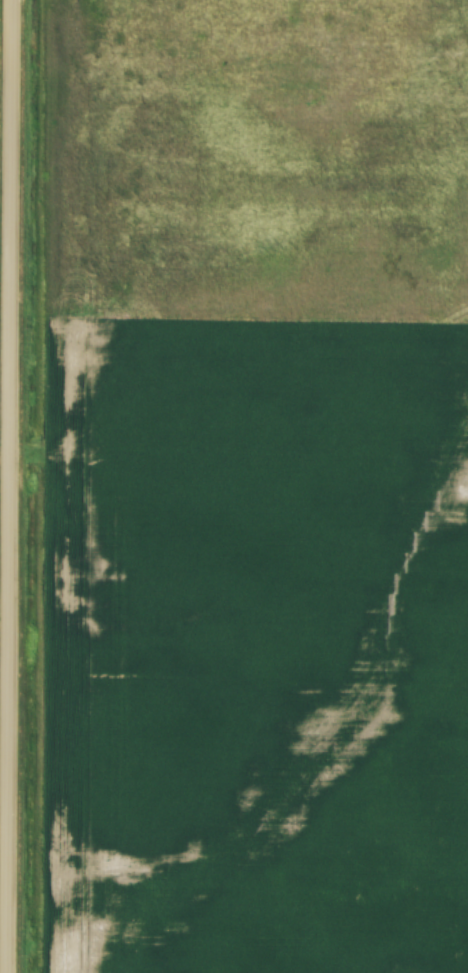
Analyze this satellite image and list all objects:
road: (10, 486)

